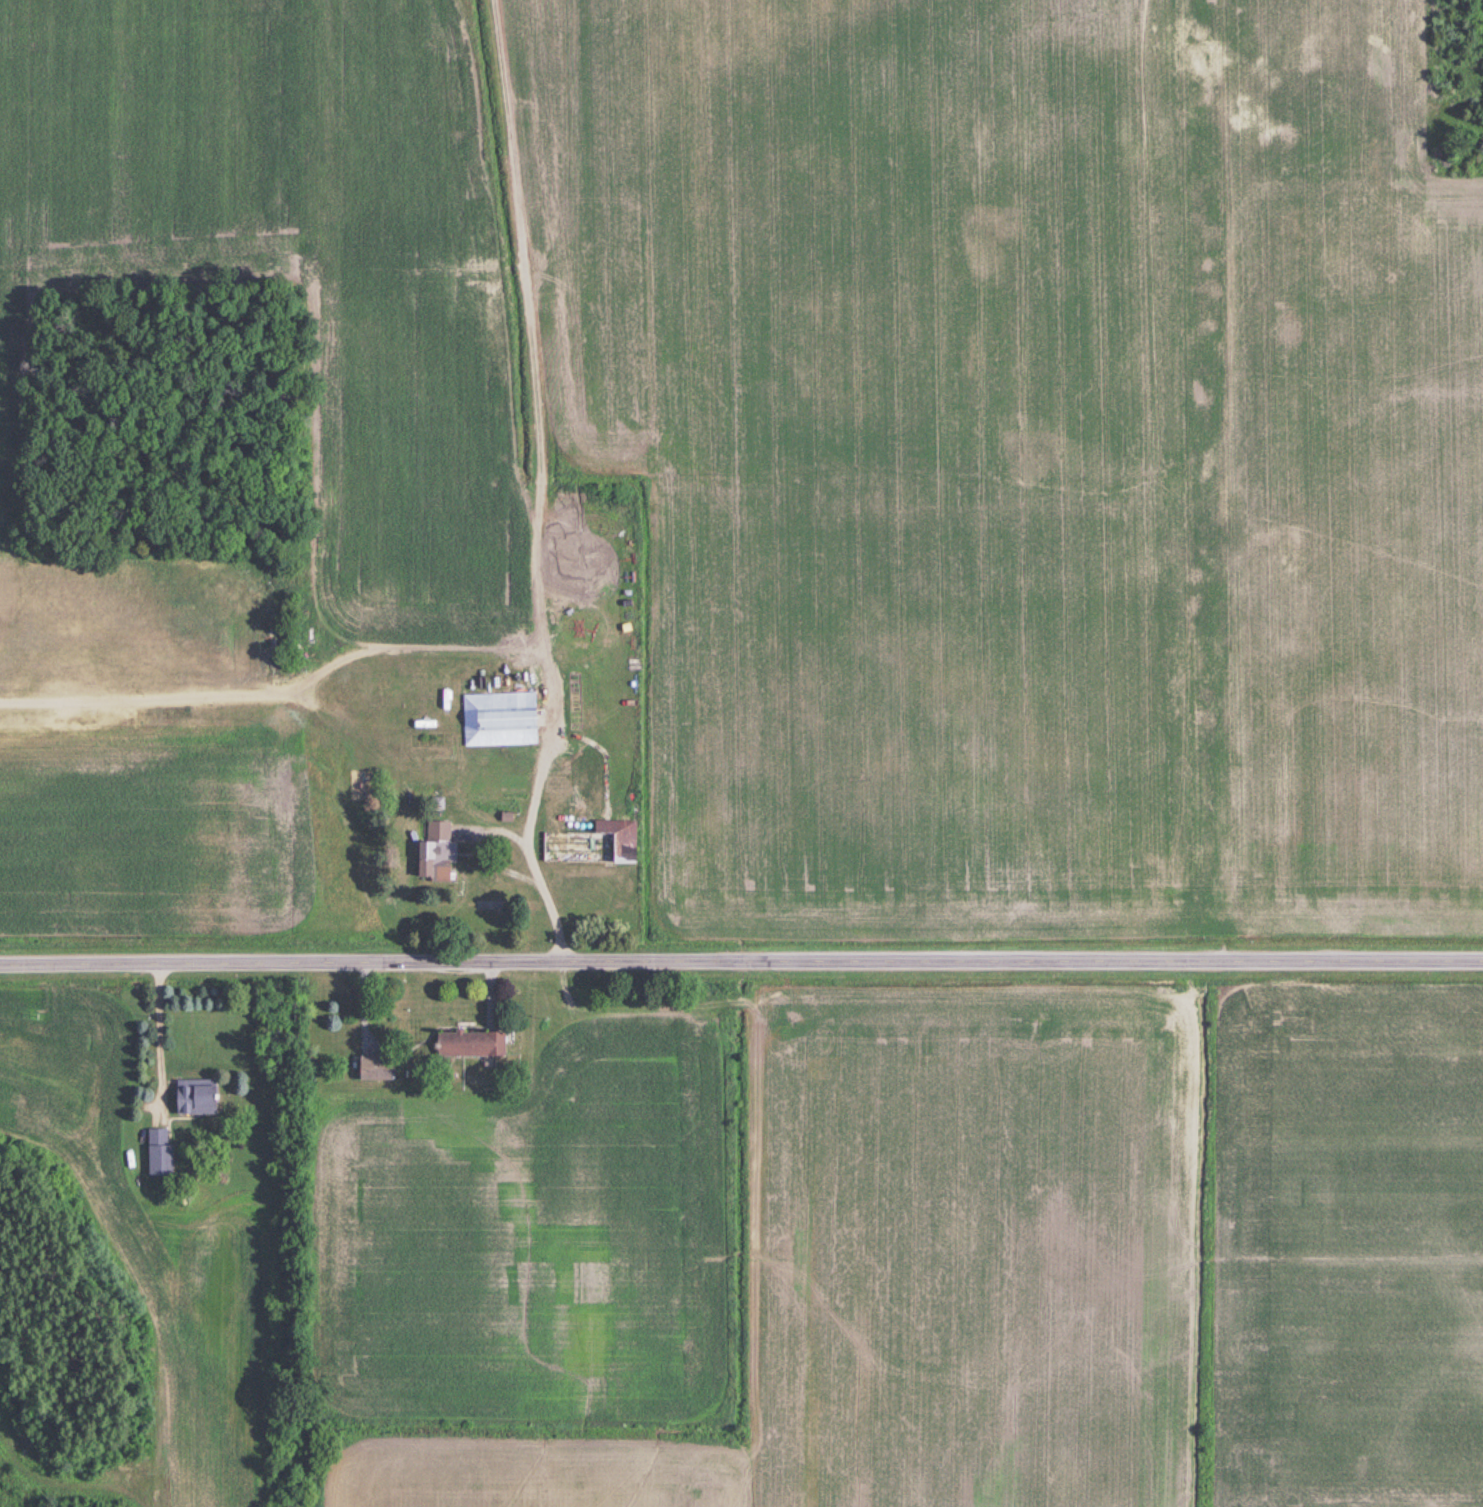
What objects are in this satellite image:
road: (1222, 480)
building: (497, 720)
building: (585, 842)
building: (435, 851)
road: (527, 861)
road: (741, 961)
road: (153, 1029)
building: (467, 1043)
building: (372, 1067)
building: (193, 1099)
building: (156, 1152)

